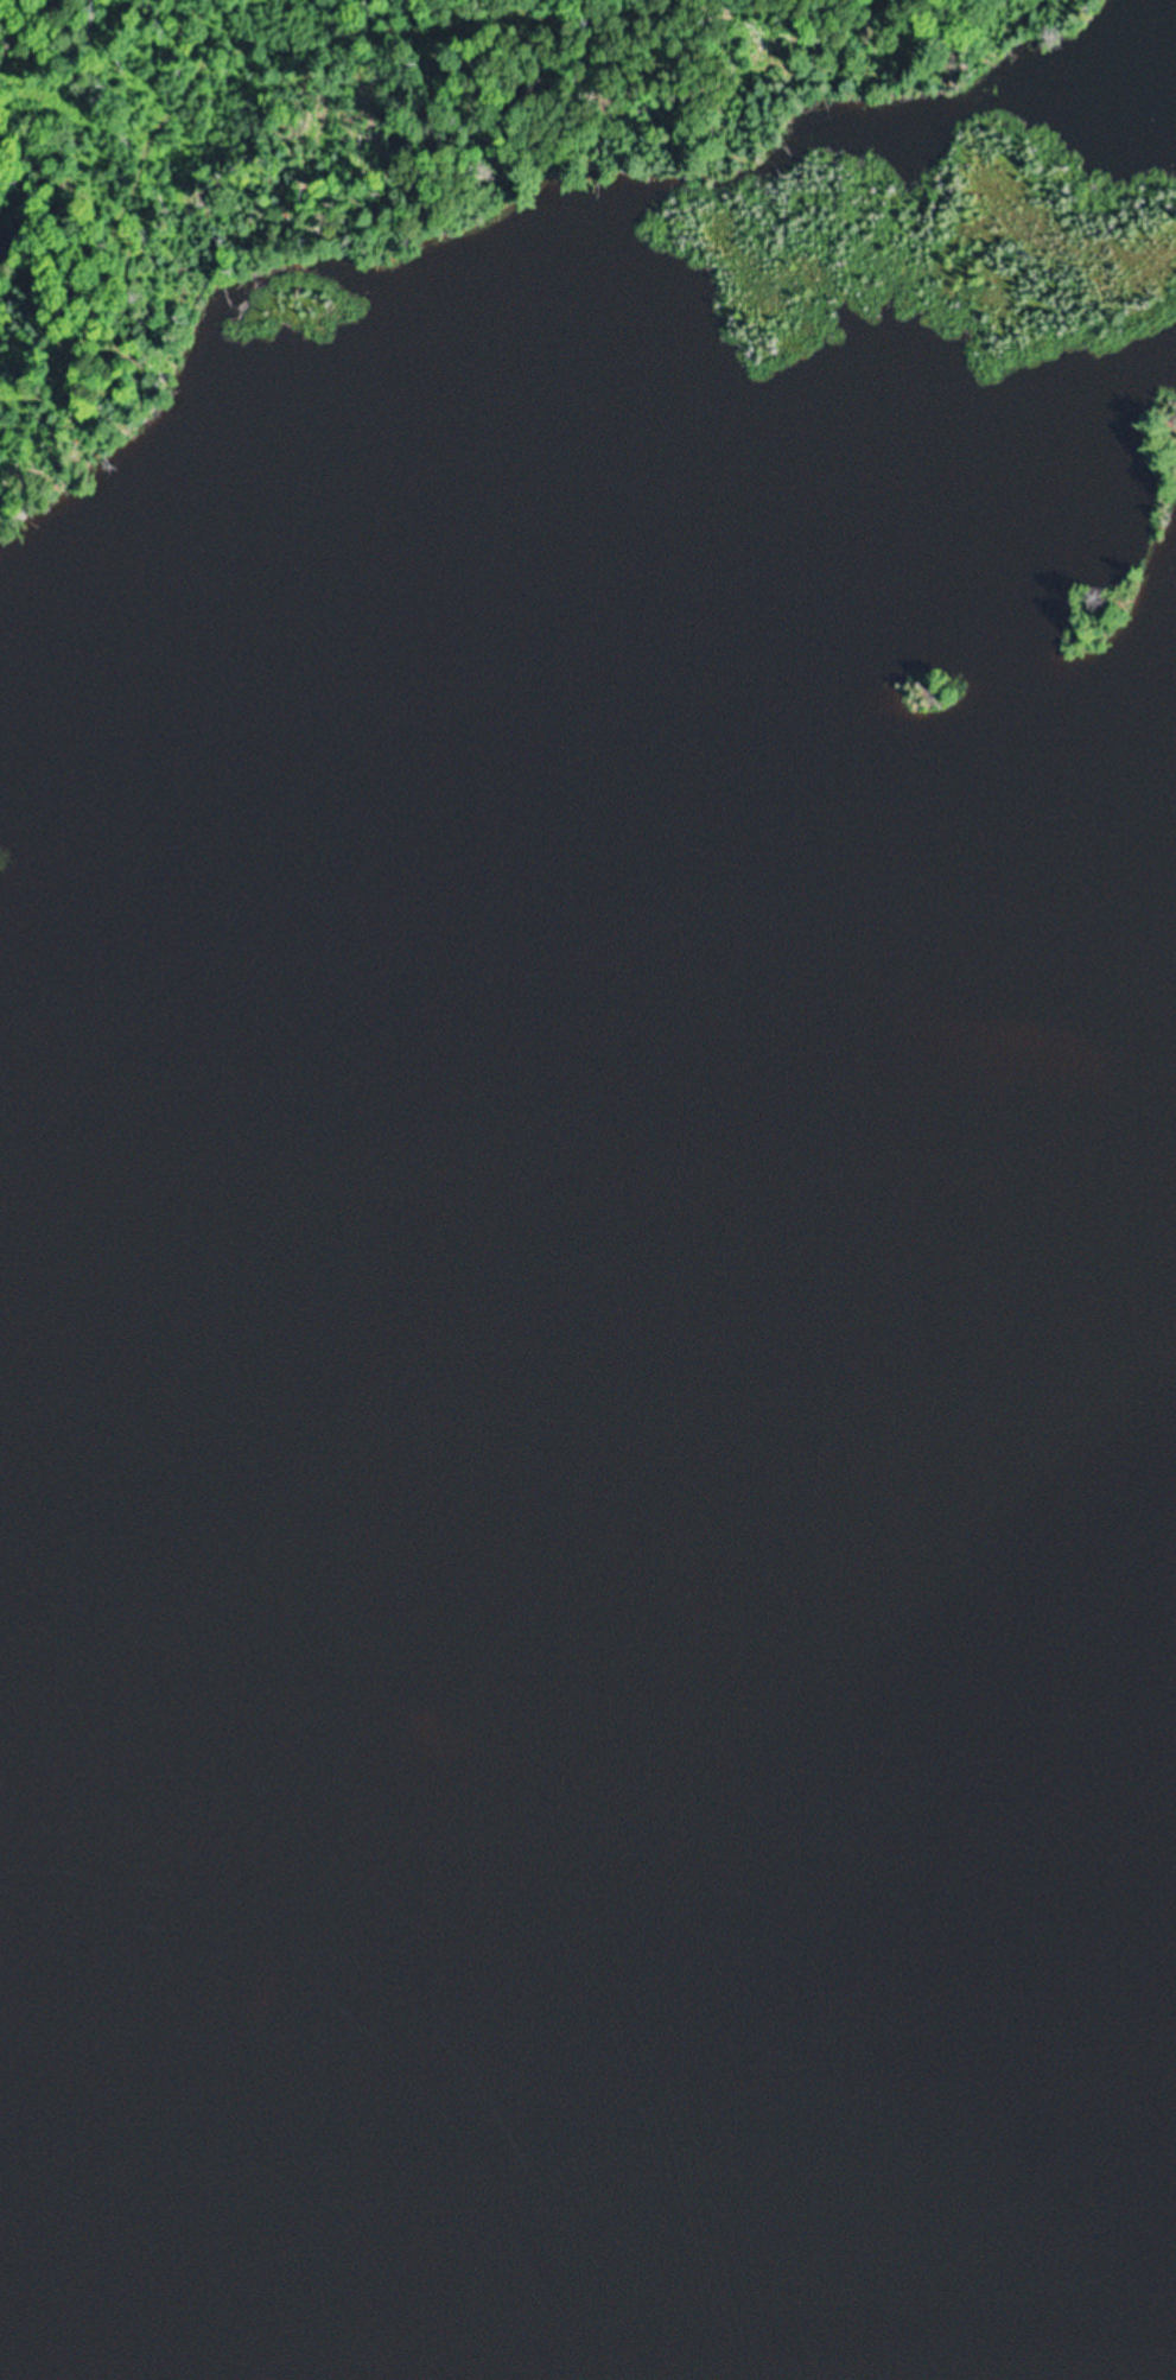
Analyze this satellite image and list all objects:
river: (596, 2016)

